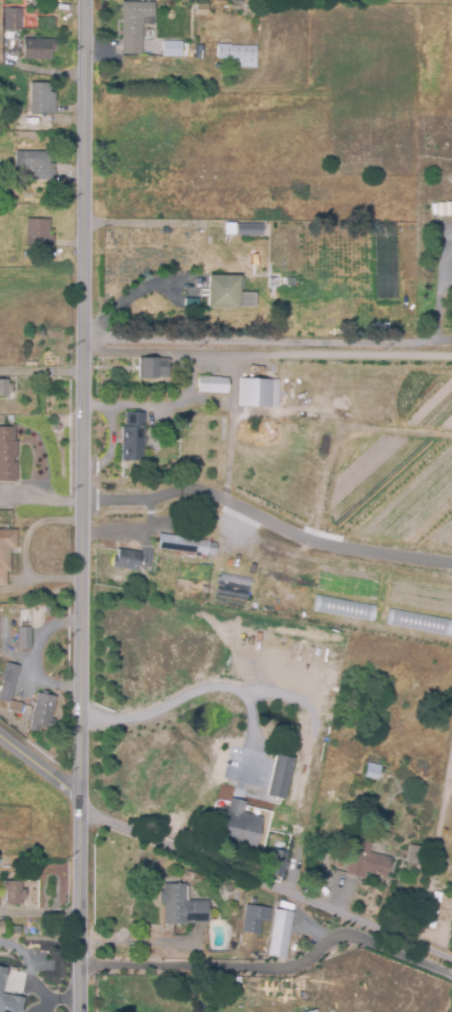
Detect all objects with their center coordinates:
building: (250, 7)
building: (200, 10)
building: (11, 20)
building: (133, 26)
building: (37, 49)
building: (170, 49)
building: (184, 51)
building: (237, 56)
road: (40, 69)
building: (40, 99)
building: (34, 165)
building: (27, 196)
building: (249, 230)
building: (37, 234)
building: (28, 255)
building: (281, 283)
building: (227, 294)
road: (126, 296)
building: (41, 334)
road: (307, 342)
road: (265, 351)
building: (30, 364)
building: (152, 371)
building: (211, 385)
building: (3, 389)
building: (257, 394)
building: (10, 419)
road: (110, 433)
building: (133, 437)
building: (7, 456)
building: (132, 470)
road: (80, 505)
building: (172, 522)
road: (265, 523)
road: (128, 532)
building: (184, 548)
building: (6, 553)
building: (125, 560)
building: (34, 623)
building: (23, 639)
building: (8, 688)
road: (199, 691)
building: (40, 716)
road: (39, 767)
building: (372, 769)
building: (278, 773)
building: (377, 816)
building: (235, 826)
building: (414, 856)
building: (364, 860)
building: (276, 864)
road: (261, 883)
building: (11, 893)
building: (252, 900)
building: (179, 906)
building: (255, 918)
building: (1, 929)
building: (275, 936)
road: (274, 969)
road: (34, 977)
building: (8, 998)
building: (311, 1011)

